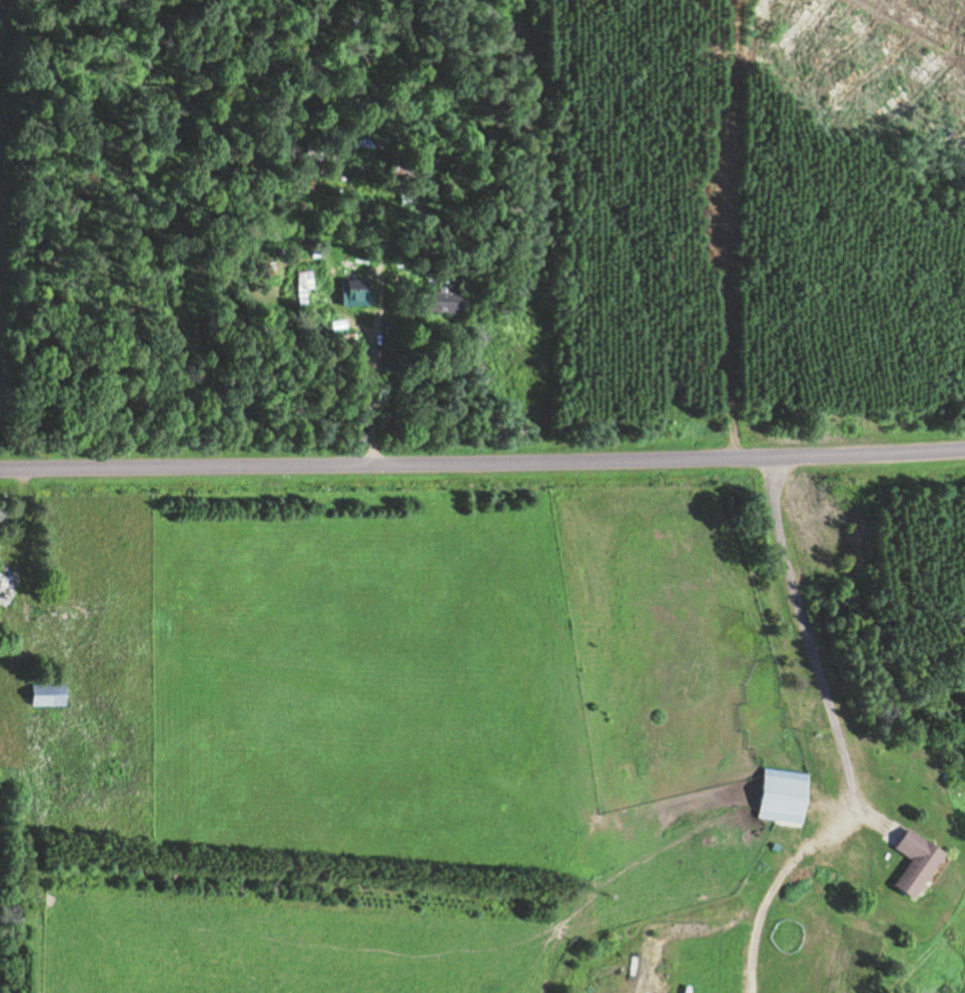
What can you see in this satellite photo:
building: (522, 46)
building: (317, 149)
building: (304, 279)
building: (354, 292)
building: (446, 294)
road: (353, 322)
road: (374, 359)
road: (482, 444)
building: (7, 585)
building: (47, 695)
building: (782, 797)
building: (914, 864)

